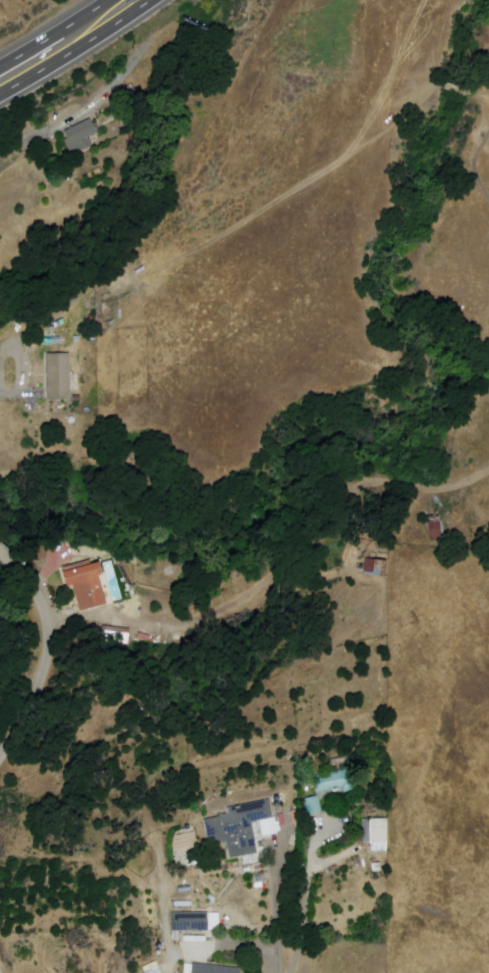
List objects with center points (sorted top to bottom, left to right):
road: (57, 36)
road: (77, 50)
building: (81, 138)
building: (60, 378)
road: (11, 395)
building: (434, 527)
building: (376, 570)
building: (87, 585)
road: (46, 653)
building: (339, 781)
storage tank: (278, 803)
building: (316, 807)
building: (280, 817)
building: (239, 830)
building: (381, 838)
building: (183, 847)
road: (278, 918)
building: (192, 923)
storage tank: (161, 952)
building: (153, 969)
building: (214, 970)

